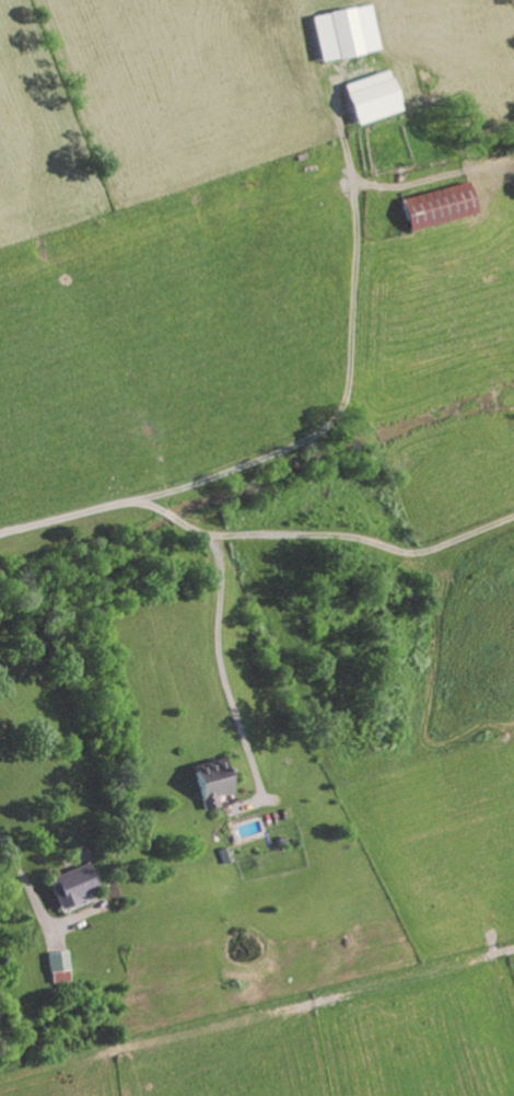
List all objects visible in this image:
building: (371, 100)
building: (436, 208)
road: (354, 396)
road: (62, 514)
road: (319, 537)
road: (226, 667)
building: (210, 783)
road: (23, 873)
building: (59, 968)

